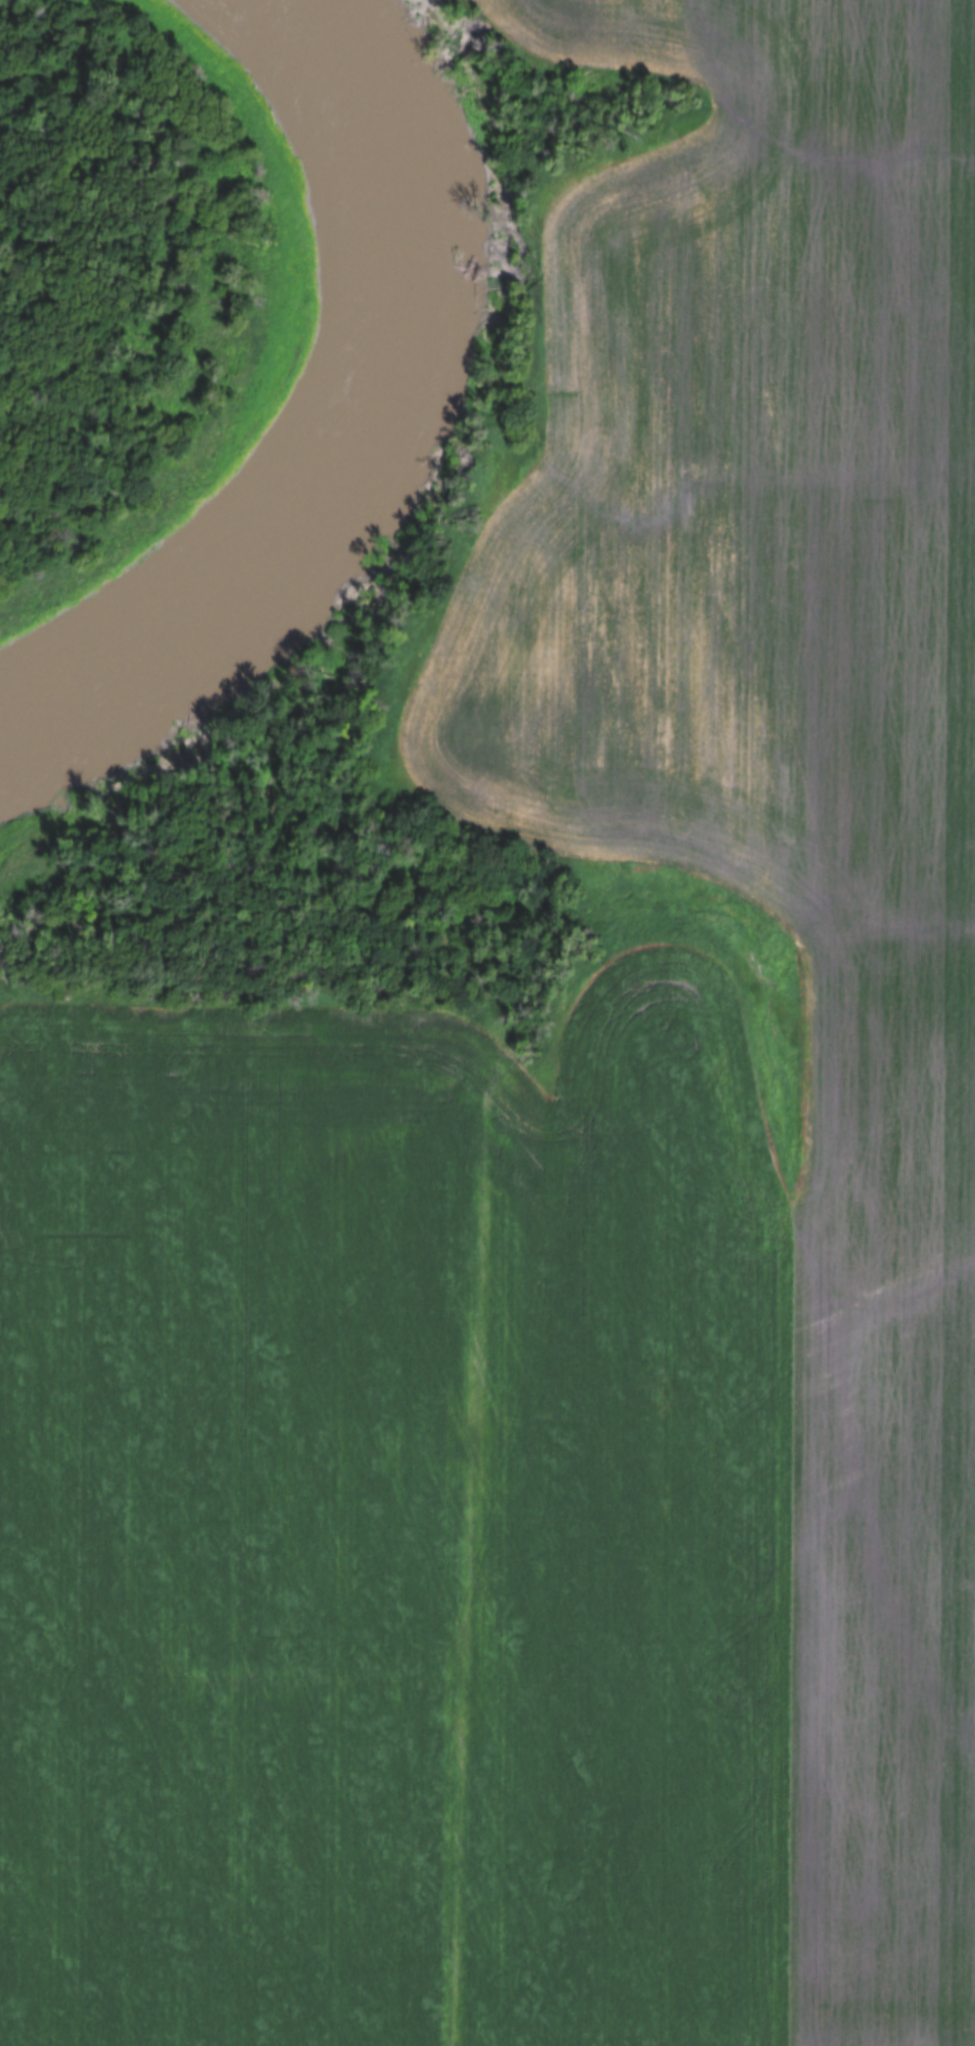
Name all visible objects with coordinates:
river: (357, 433)

